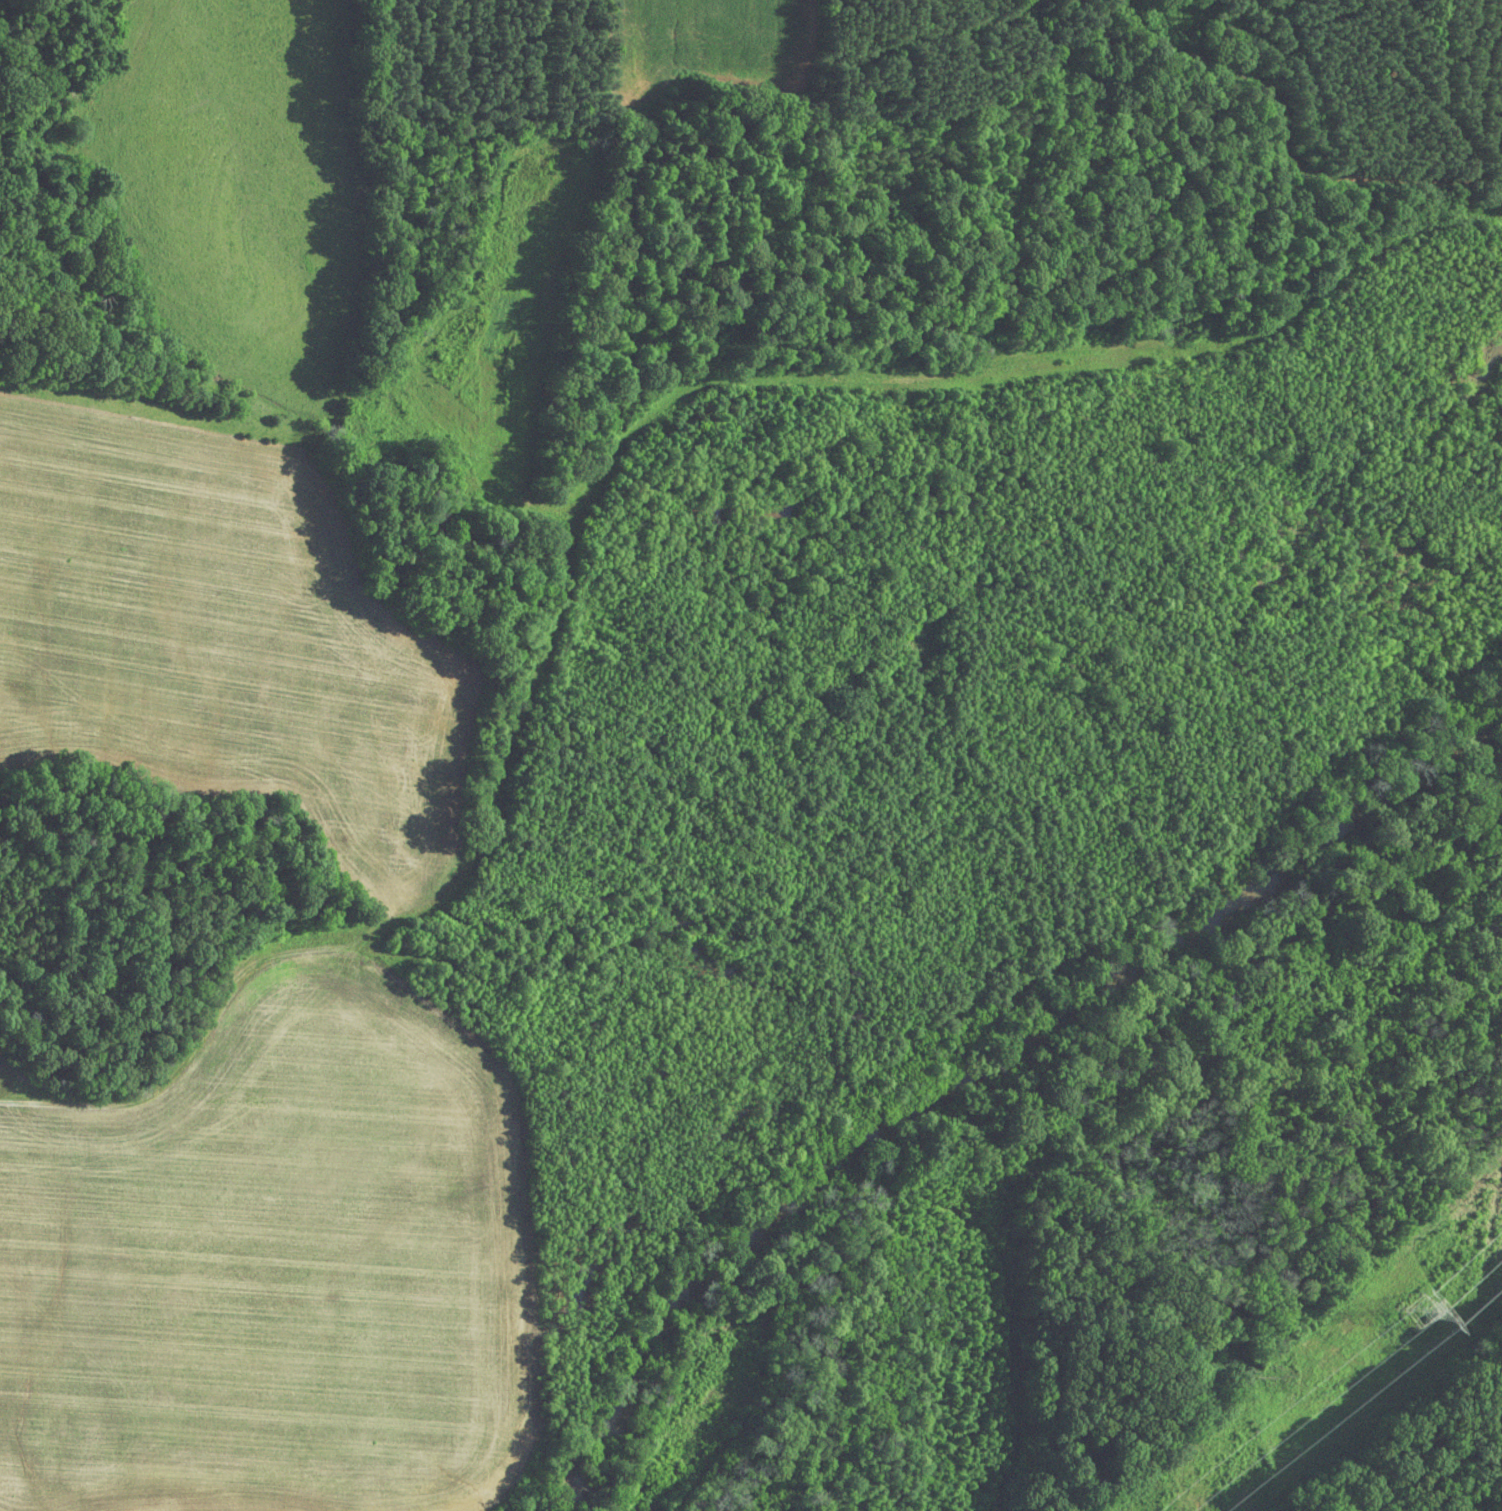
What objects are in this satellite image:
power tower: (1428, 1310)

